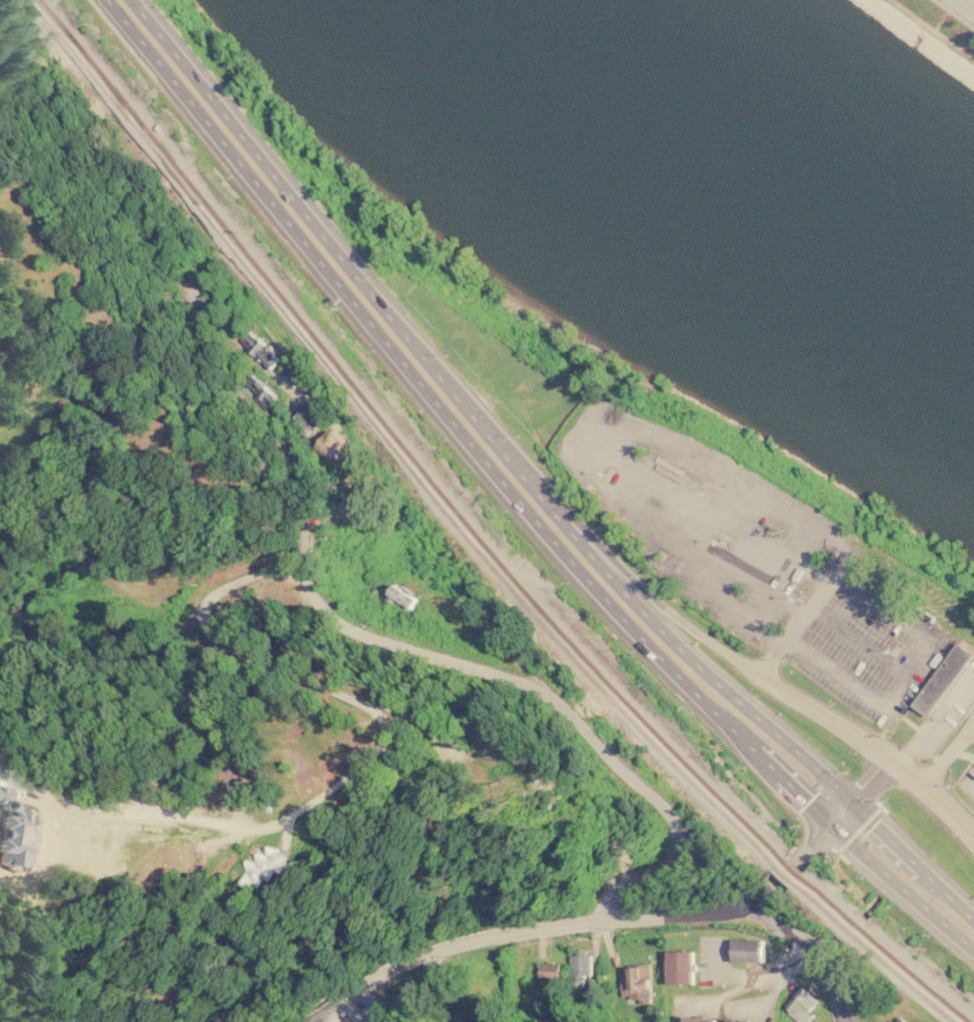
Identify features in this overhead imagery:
road: (963, 7)
road: (953, 14)
railway: (53, 16)
road: (931, 30)
railway: (111, 100)
railway: (130, 116)
river: (743, 194)
road: (381, 291)
railway: (411, 457)
road: (516, 496)
parking lot: (696, 512)
railway: (471, 543)
road: (805, 610)
building: (922, 610)
road: (351, 619)
road: (693, 626)
building: (972, 634)
road: (489, 640)
road: (856, 640)
parking lot: (867, 648)
road: (268, 664)
road: (904, 675)
building: (938, 679)
road: (935, 713)
road: (872, 750)
road: (946, 751)
road: (795, 753)
parking lot: (967, 780)
road: (861, 792)
traffic signals: (851, 804)
traffic signals: (833, 823)
building: (266, 865)
railway: (792, 868)
railway: (786, 875)
road: (575, 922)
building: (747, 949)
railway: (885, 950)
road: (813, 952)
railway: (875, 953)
building: (680, 966)
building: (579, 967)
building: (549, 972)
building: (637, 982)
road: (431, 987)
road: (745, 987)
building: (800, 1004)
building: (699, 1019)
building: (900, 1019)
building: (468, 1020)
building: (735, 1020)
building: (888, 1021)

